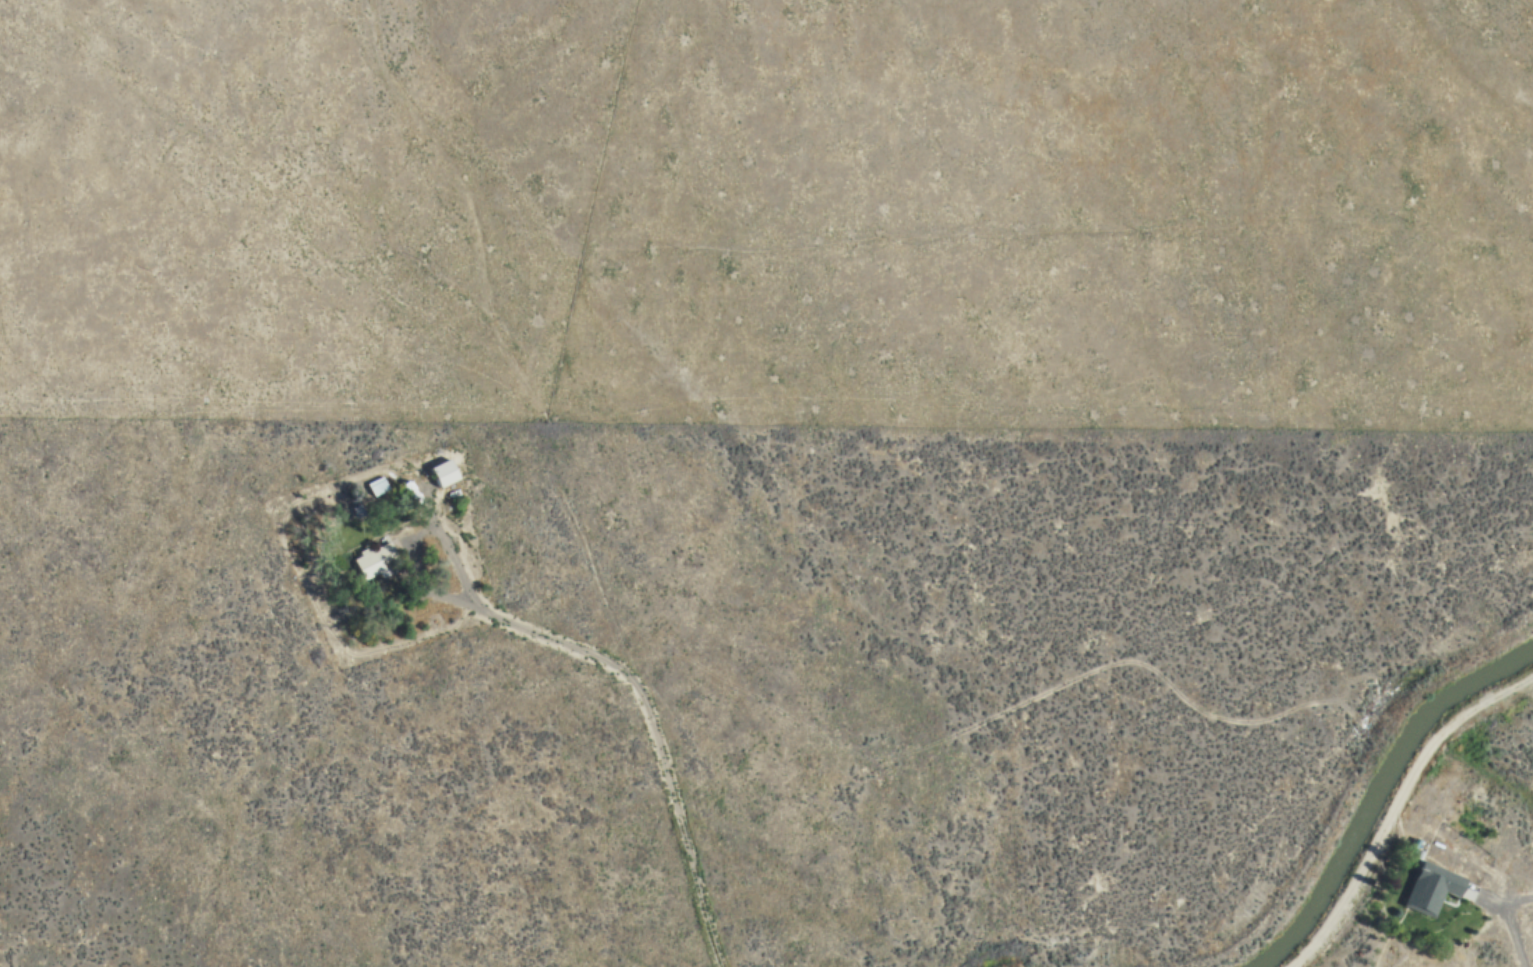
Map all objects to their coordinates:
road: (836, 295)
building: (438, 473)
building: (373, 486)
road: (576, 529)
building: (373, 561)
road: (416, 578)
road: (624, 653)
road: (624, 673)
road: (986, 718)
road: (1401, 806)
building: (1427, 888)
road: (1485, 898)
road: (1510, 923)

